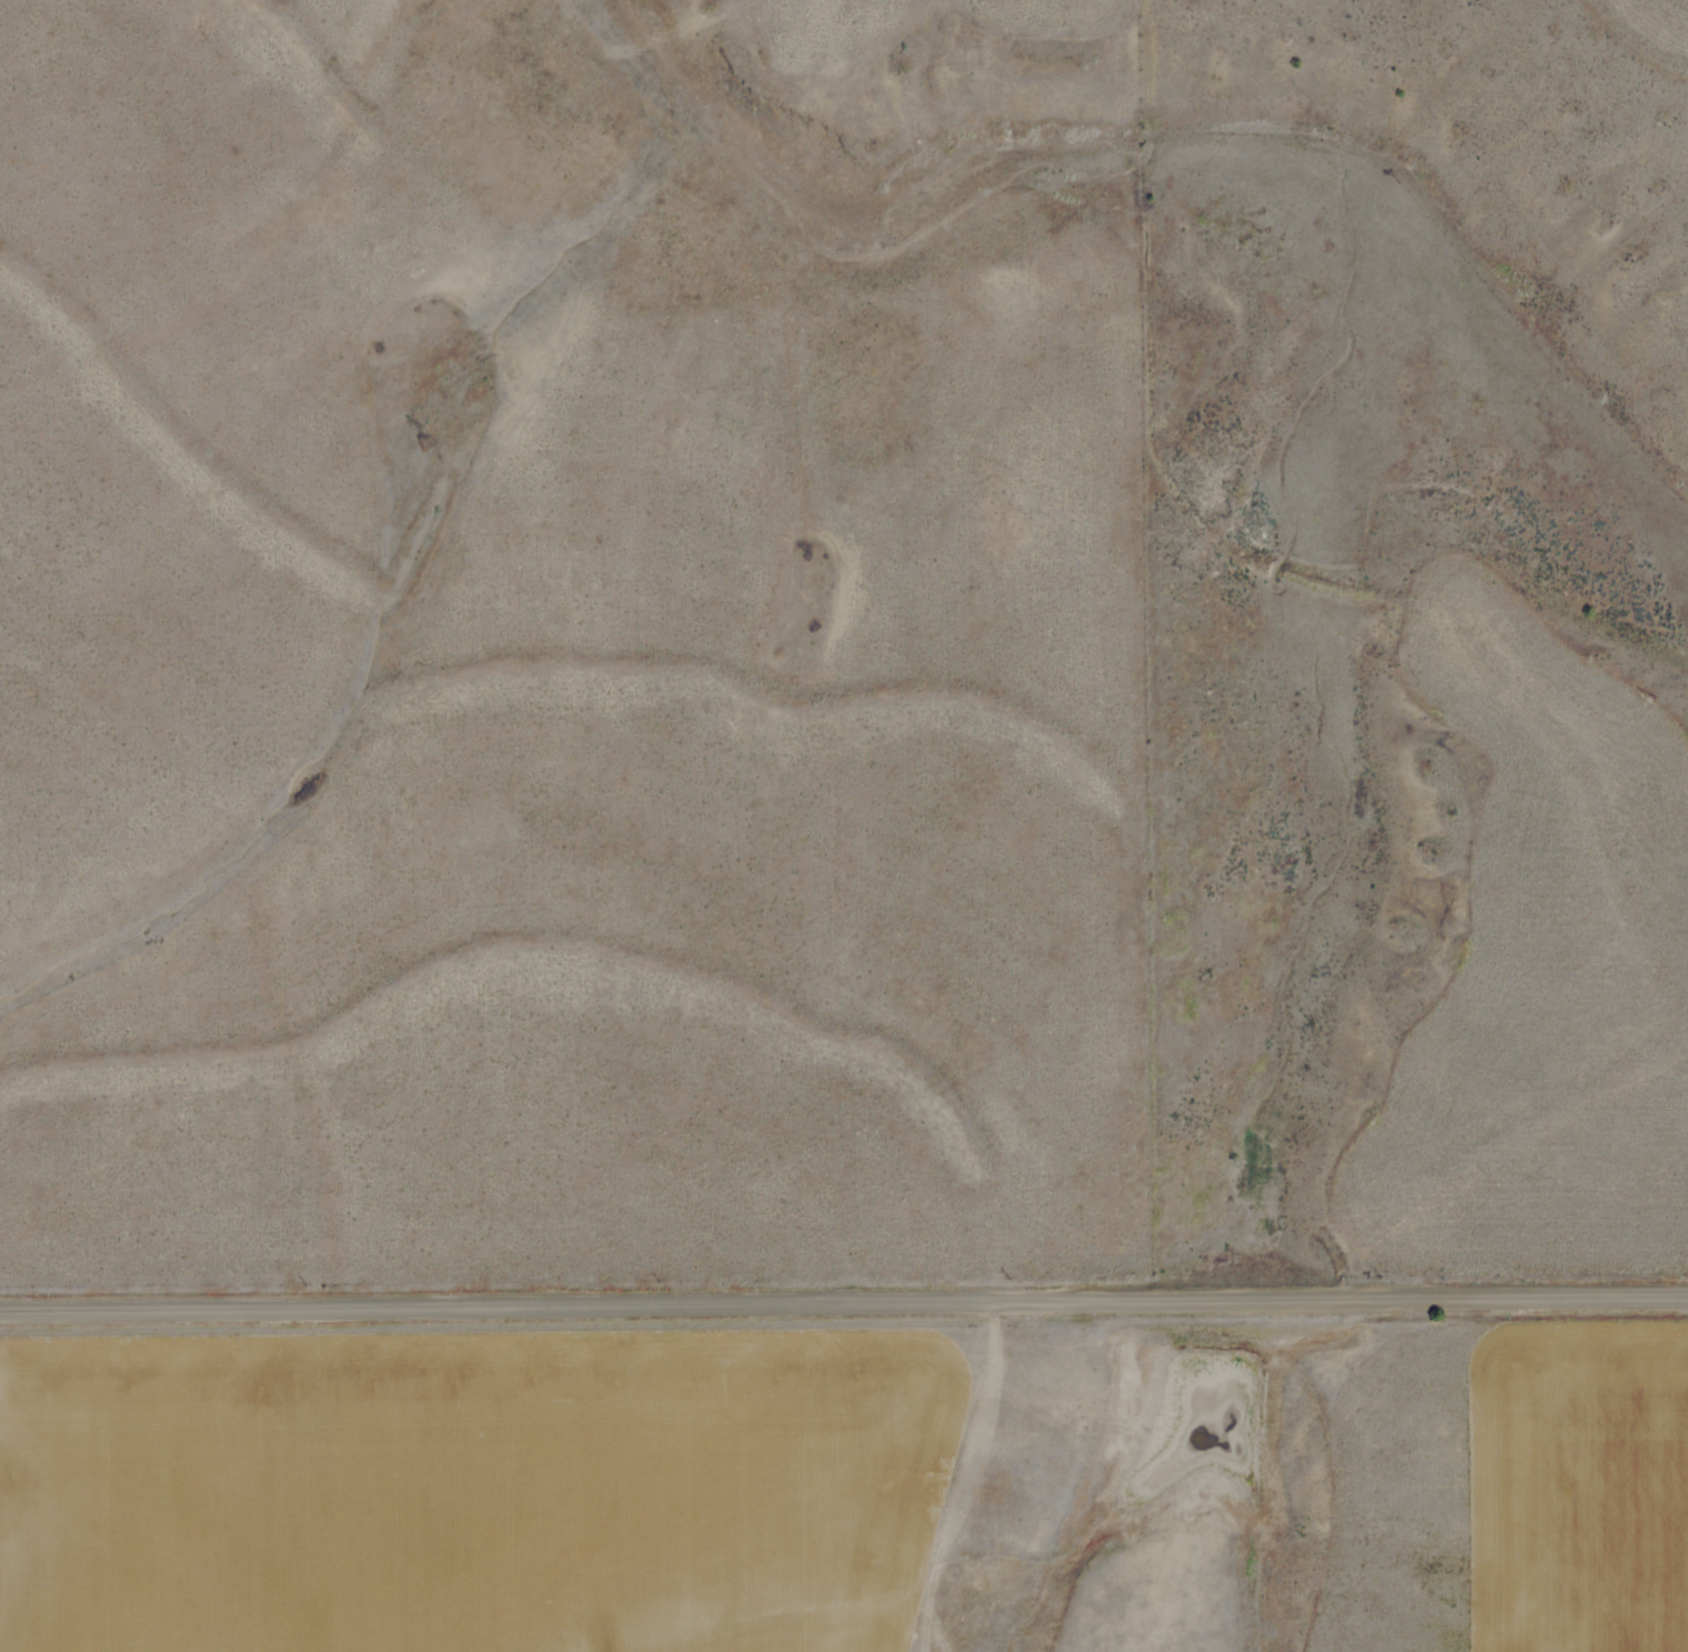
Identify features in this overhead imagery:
road: (843, 1304)
crop: (850, 1501)

